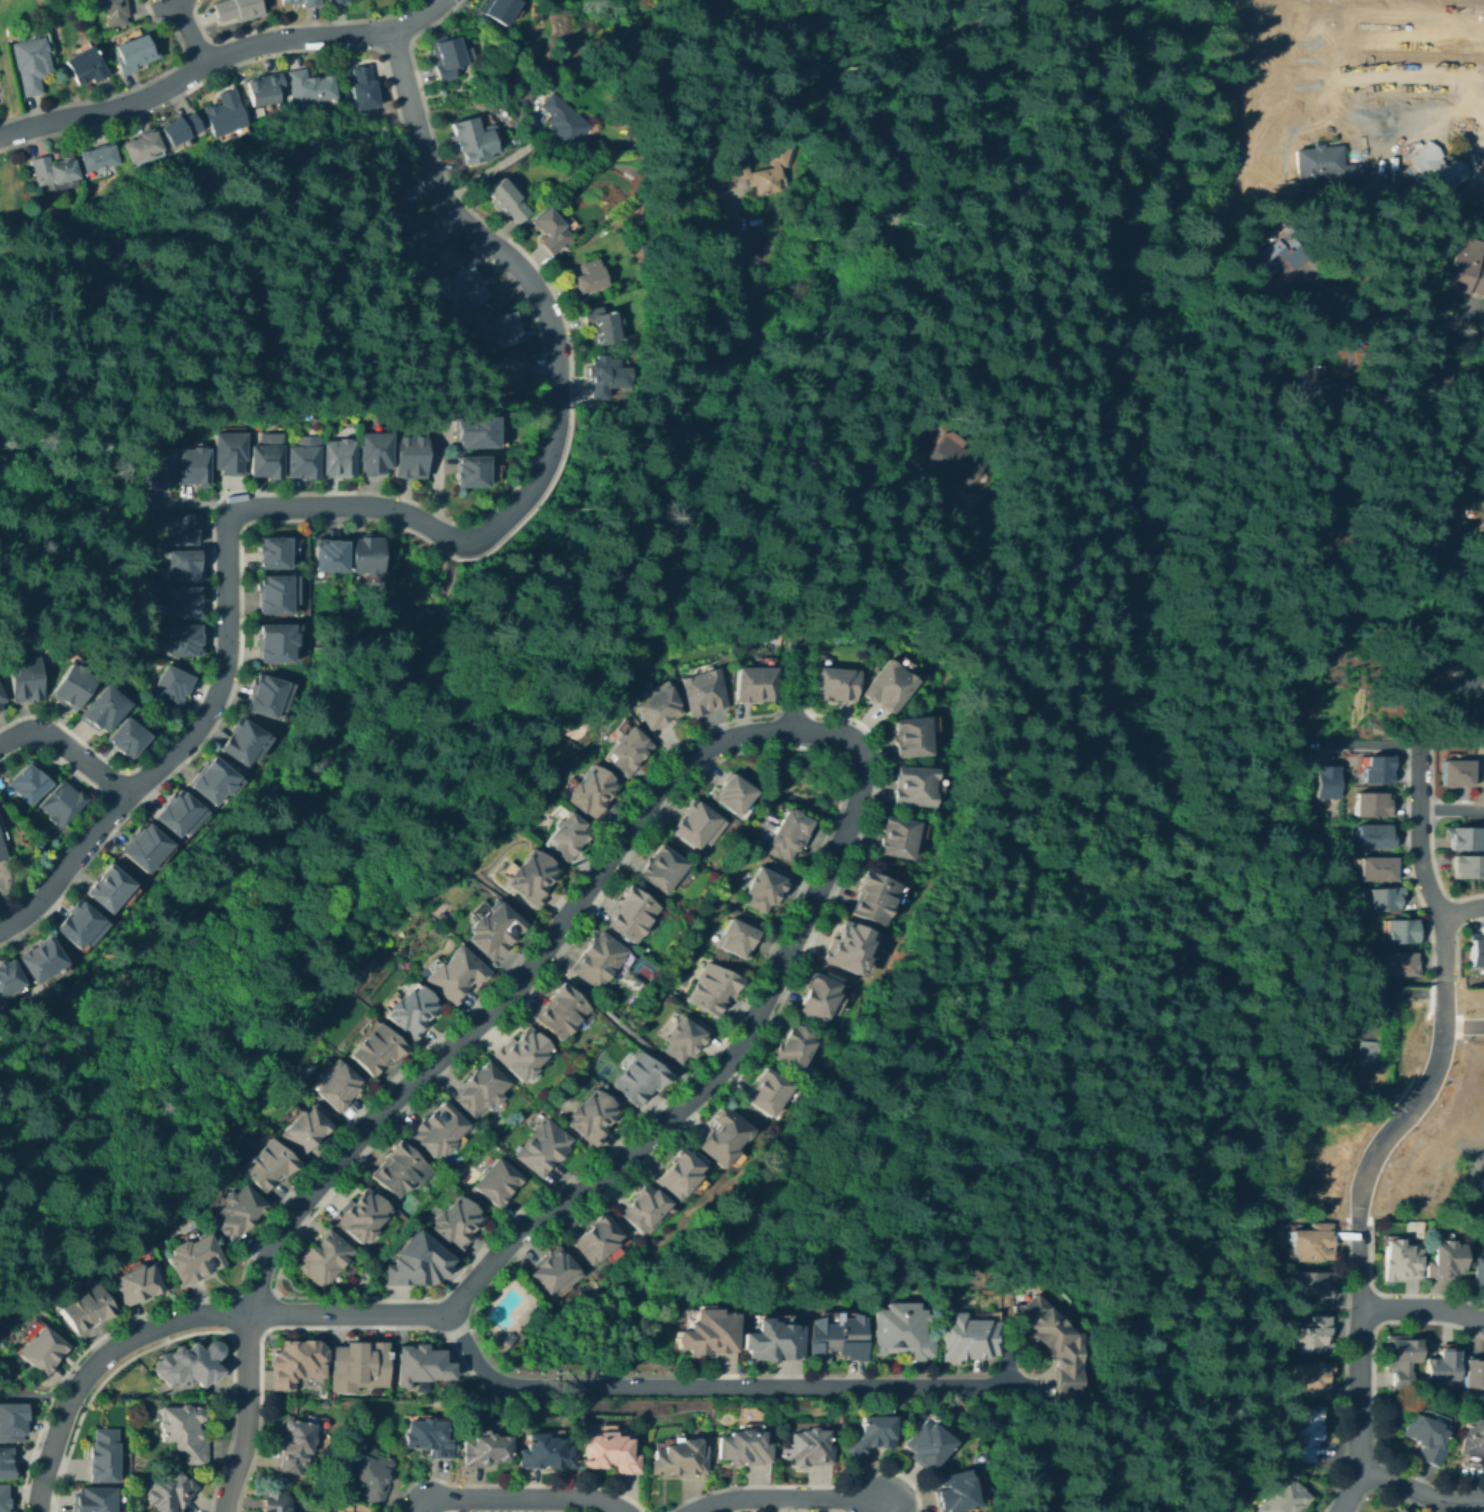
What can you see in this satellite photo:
building: (334, 1)
building: (310, 2)
road: (1317, 5)
building: (110, 8)
building: (235, 8)
building: (498, 8)
road: (415, 17)
road: (1317, 21)
road: (291, 24)
road: (189, 32)
road: (1314, 33)
road: (391, 44)
road: (196, 46)
building: (137, 53)
building: (448, 57)
building: (31, 64)
building: (85, 67)
road: (192, 71)
road: (1311, 77)
road: (1398, 80)
building: (364, 87)
building: (1426, 87)
road: (129, 88)
building: (310, 90)
building: (263, 92)
building: (225, 113)
building: (562, 121)
building: (180, 129)
road: (1396, 131)
road: (1287, 135)
road: (1459, 137)
building: (473, 140)
building: (141, 147)
road: (1482, 155)
building: (97, 158)
building: (1313, 161)
building: (737, 165)
road: (491, 168)
building: (1432, 169)
building: (53, 170)
building: (508, 202)
building: (389, 209)
building: (551, 229)
building: (423, 251)
building: (1276, 251)
building: (1464, 268)
road: (730, 273)
building: (588, 276)
road: (812, 282)
building: (468, 289)
road: (1424, 314)
building: (601, 323)
building: (506, 329)
building: (607, 375)
building: (509, 376)
building: (1311, 388)
road: (556, 400)
road: (539, 433)
building: (476, 435)
building: (371, 452)
building: (227, 454)
building: (409, 456)
building: (264, 457)
building: (338, 458)
building: (301, 460)
building: (947, 460)
building: (192, 467)
building: (156, 469)
building: (475, 473)
building: (941, 497)
road: (188, 506)
road: (1362, 514)
building: (182, 531)
road: (434, 546)
building: (273, 552)
building: (366, 555)
building: (329, 557)
building: (184, 567)
building: (278, 595)
building: (185, 603)
road: (1426, 619)
building: (183, 641)
building: (277, 644)
building: (1464, 664)
building: (27, 679)
road: (793, 681)
building: (172, 684)
building: (836, 684)
building: (754, 685)
building: (889, 685)
building: (71, 687)
building: (701, 690)
building: (268, 696)
building: (0, 700)
building: (1483, 700)
building: (1, 703)
building: (655, 705)
building: (104, 709)
road: (791, 710)
road: (1466, 715)
building: (1363, 732)
building: (127, 737)
building: (912, 737)
building: (247, 741)
road: (1370, 744)
road: (176, 746)
road: (66, 749)
building: (626, 751)
road: (707, 764)
building: (1376, 770)
building: (1453, 773)
building: (1478, 773)
road: (137, 782)
building: (216, 782)
building: (30, 783)
building: (1324, 783)
building: (915, 785)
building: (592, 792)
road: (98, 793)
building: (732, 794)
building: (1368, 803)
building: (62, 804)
road: (1452, 809)
road: (91, 810)
building: (182, 817)
building: (695, 823)
building: (1369, 835)
building: (566, 836)
building: (787, 836)
building: (897, 837)
building: (1463, 838)
building: (2, 850)
building: (148, 851)
building: (1467, 865)
building: (1373, 868)
building: (662, 870)
building: (525, 876)
building: (765, 888)
building: (114, 890)
building: (874, 898)
building: (1380, 899)
road: (1463, 909)
building: (629, 915)
building: (81, 926)
building: (488, 929)
building: (1398, 931)
building: (738, 940)
building: (850, 949)
building: (1475, 951)
building: (597, 960)
building: (42, 961)
building: (1397, 964)
park: (636, 967)
building: (451, 973)
building: (9, 981)
building: (712, 988)
road: (1407, 992)
road: (505, 995)
building: (818, 996)
road: (1442, 996)
building: (558, 1010)
building: (412, 1012)
road: (615, 1024)
road: (1463, 1025)
building: (683, 1040)
building: (376, 1048)
building: (794, 1049)
building: (521, 1053)
building: (1451, 1054)
building: (1369, 1055)
building: (1320, 1060)
park: (602, 1067)
road: (394, 1072)
building: (639, 1078)
building: (335, 1086)
building: (767, 1090)
building: (479, 1091)
road: (668, 1117)
building: (592, 1118)
park: (489, 1123)
building: (304, 1129)
building: (439, 1132)
building: (722, 1136)
building: (542, 1148)
road: (646, 1157)
building: (266, 1162)
building: (397, 1170)
building: (681, 1175)
building: (497, 1182)
building: (1387, 1195)
park: (404, 1202)
building: (1483, 1203)
building: (645, 1208)
building: (237, 1215)
building: (362, 1216)
building: (457, 1223)
building: (598, 1238)
building: (1313, 1244)
building: (326, 1258)
building: (1444, 1259)
building: (194, 1260)
building: (1402, 1263)
building: (414, 1267)
building: (1479, 1271)
building: (554, 1273)
building: (135, 1283)
building: (1316, 1290)
road: (1395, 1294)
building: (87, 1307)
road: (1422, 1307)
road: (265, 1325)
building: (901, 1334)
building: (1312, 1334)
road: (178, 1335)
building: (967, 1336)
building: (708, 1338)
building: (839, 1340)
building: (772, 1341)
building: (501, 1342)
building: (1051, 1343)
building: (42, 1349)
building: (1401, 1357)
building: (192, 1359)
road: (98, 1363)
building: (296, 1364)
building: (357, 1365)
building: (419, 1365)
building: (1441, 1366)
road: (1343, 1368)
road: (1358, 1372)
building: (1475, 1375)
building: (1313, 1378)
road: (723, 1386)
road: (1369, 1390)
road: (245, 1412)
building: (10, 1421)
building: (185, 1432)
building: (874, 1432)
building: (1305, 1434)
building: (1427, 1437)
building: (1475, 1438)
building: (427, 1440)
building: (925, 1443)
building: (294, 1445)
building: (744, 1448)
building: (806, 1448)
building: (544, 1450)
building: (483, 1451)
building: (609, 1451)
building: (679, 1456)
building: (103, 1458)
building: (5, 1464)
building: (372, 1476)
road: (512, 1483)
road: (802, 1486)
road: (1411, 1491)
building: (171, 1492)
building: (955, 1492)
road: (1390, 1493)
building: (1285, 1494)
road: (520, 1498)
building: (3, 1499)
road: (786, 1499)
building: (93, 1501)
building: (275, 1505)
road: (784, 1509)
road: (518, 1510)
building: (1391, 1510)

